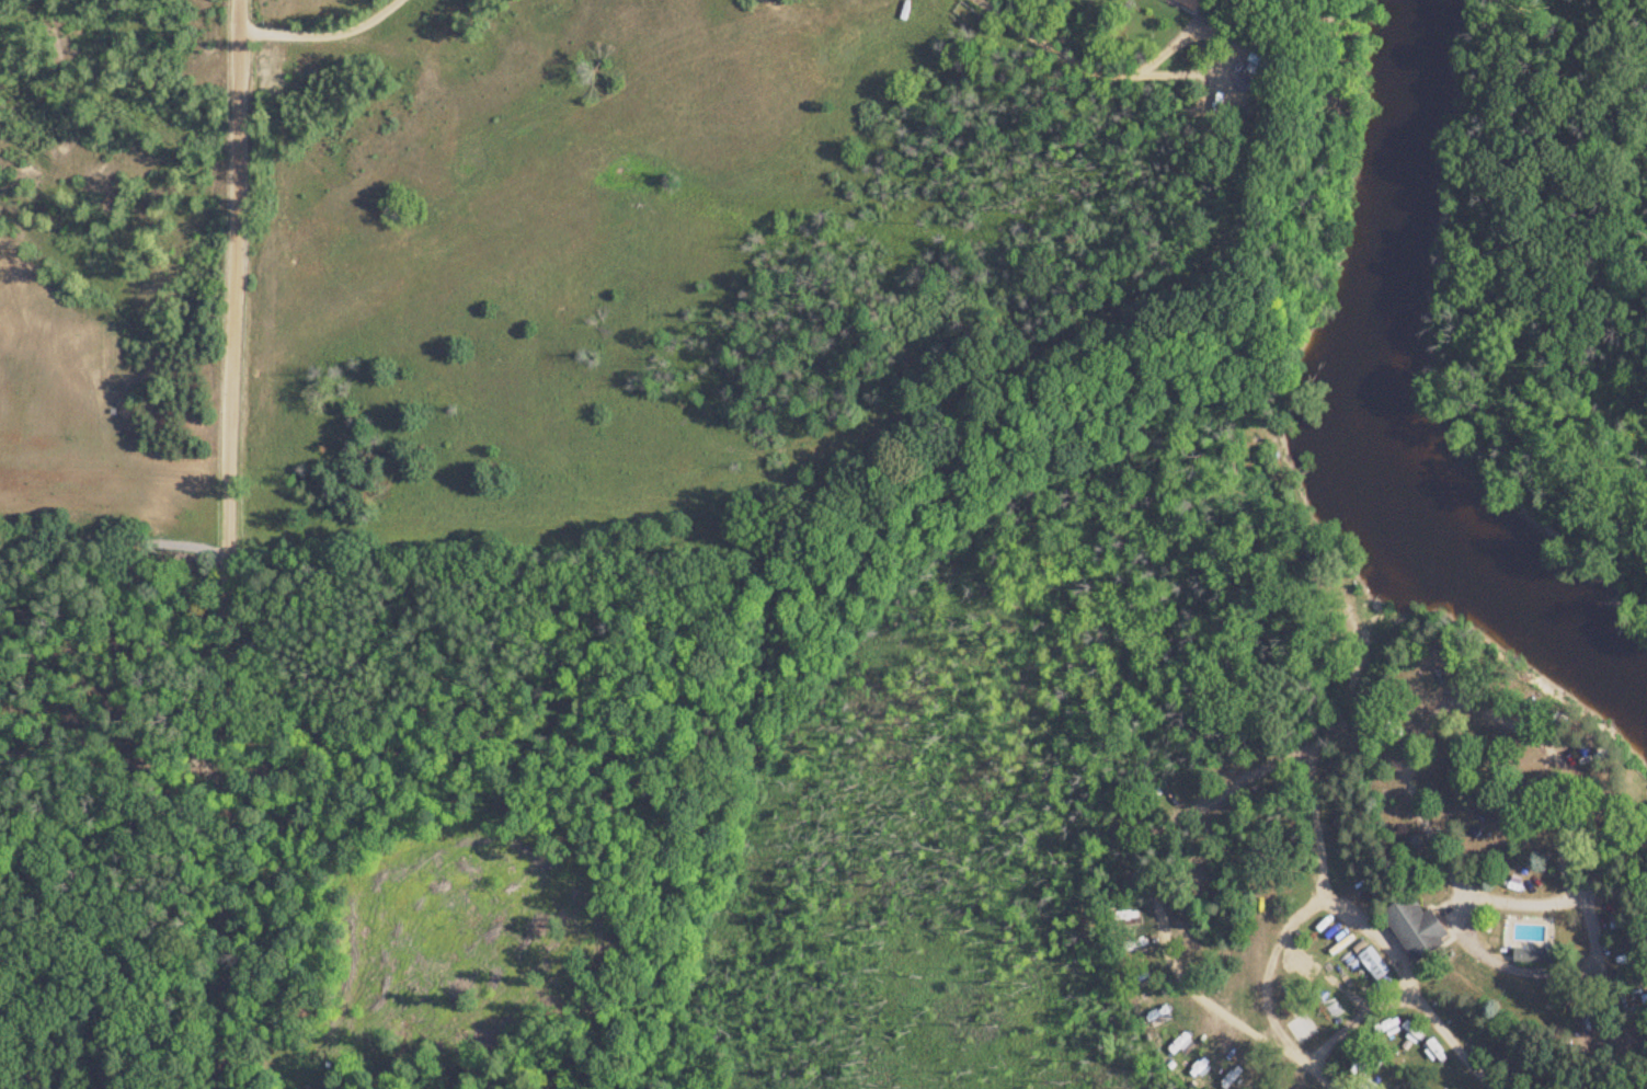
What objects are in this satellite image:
building: (1186, 3)
road: (308, 23)
road: (1079, 59)
river: (1372, 412)
road: (221, 544)
road: (1614, 859)
road: (1286, 920)
building: (1411, 928)
road: (106, 947)
road: (1486, 951)
building: (1534, 956)
road: (1392, 995)
road: (1616, 1020)
building: (1299, 1029)
road: (106, 1066)

